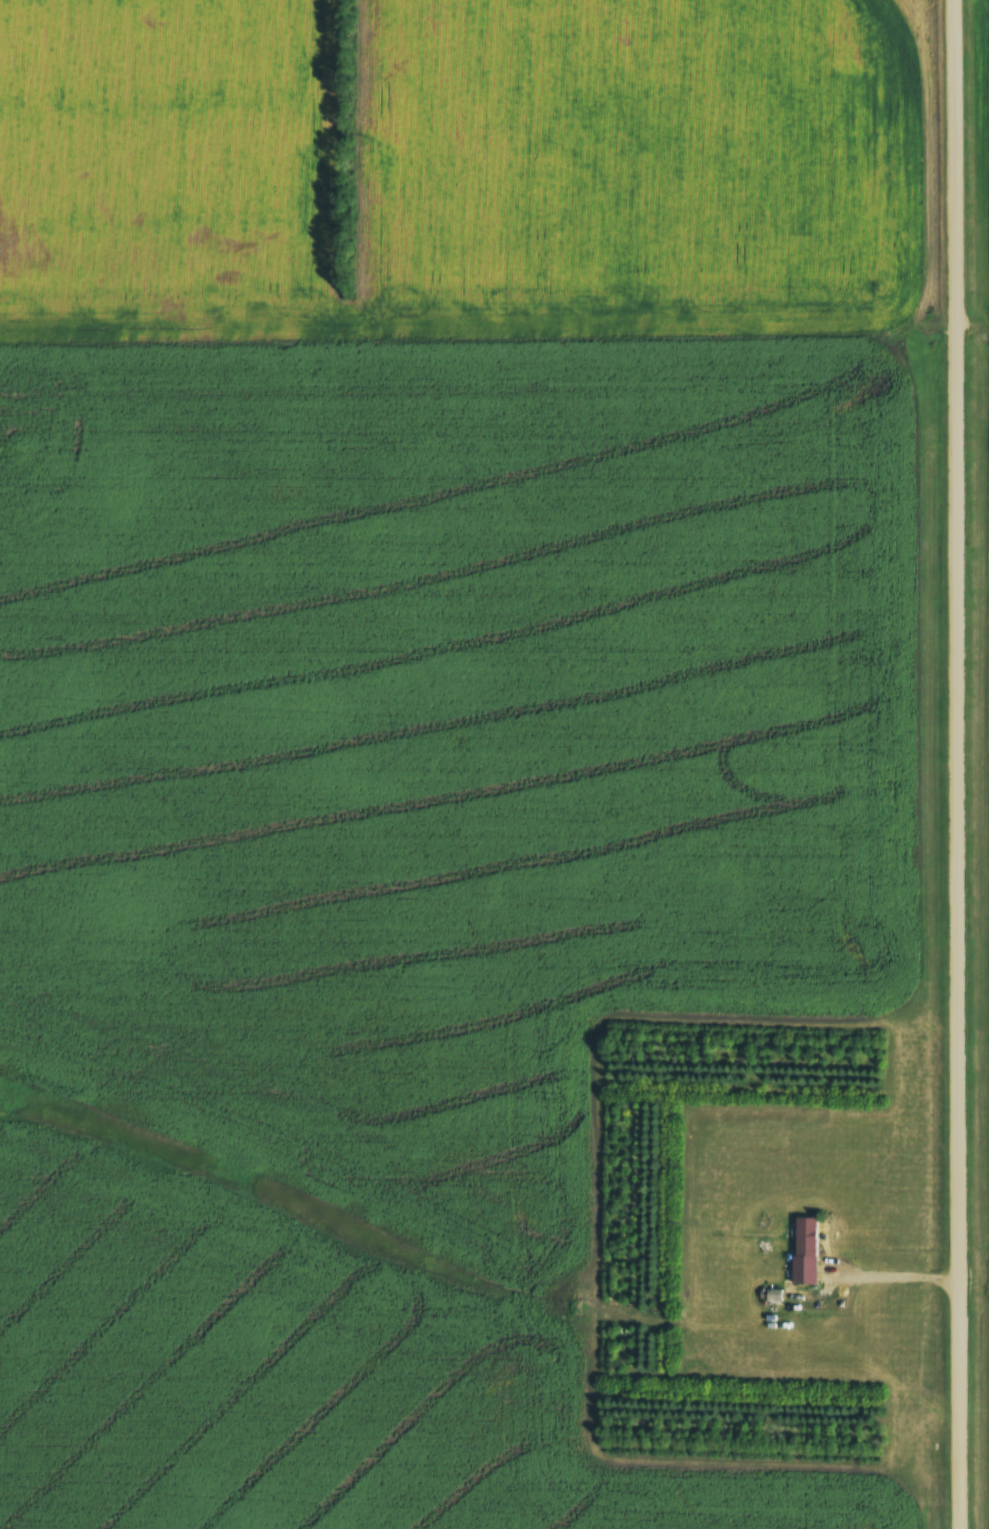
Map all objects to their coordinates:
road: (964, 764)
building: (803, 1249)

